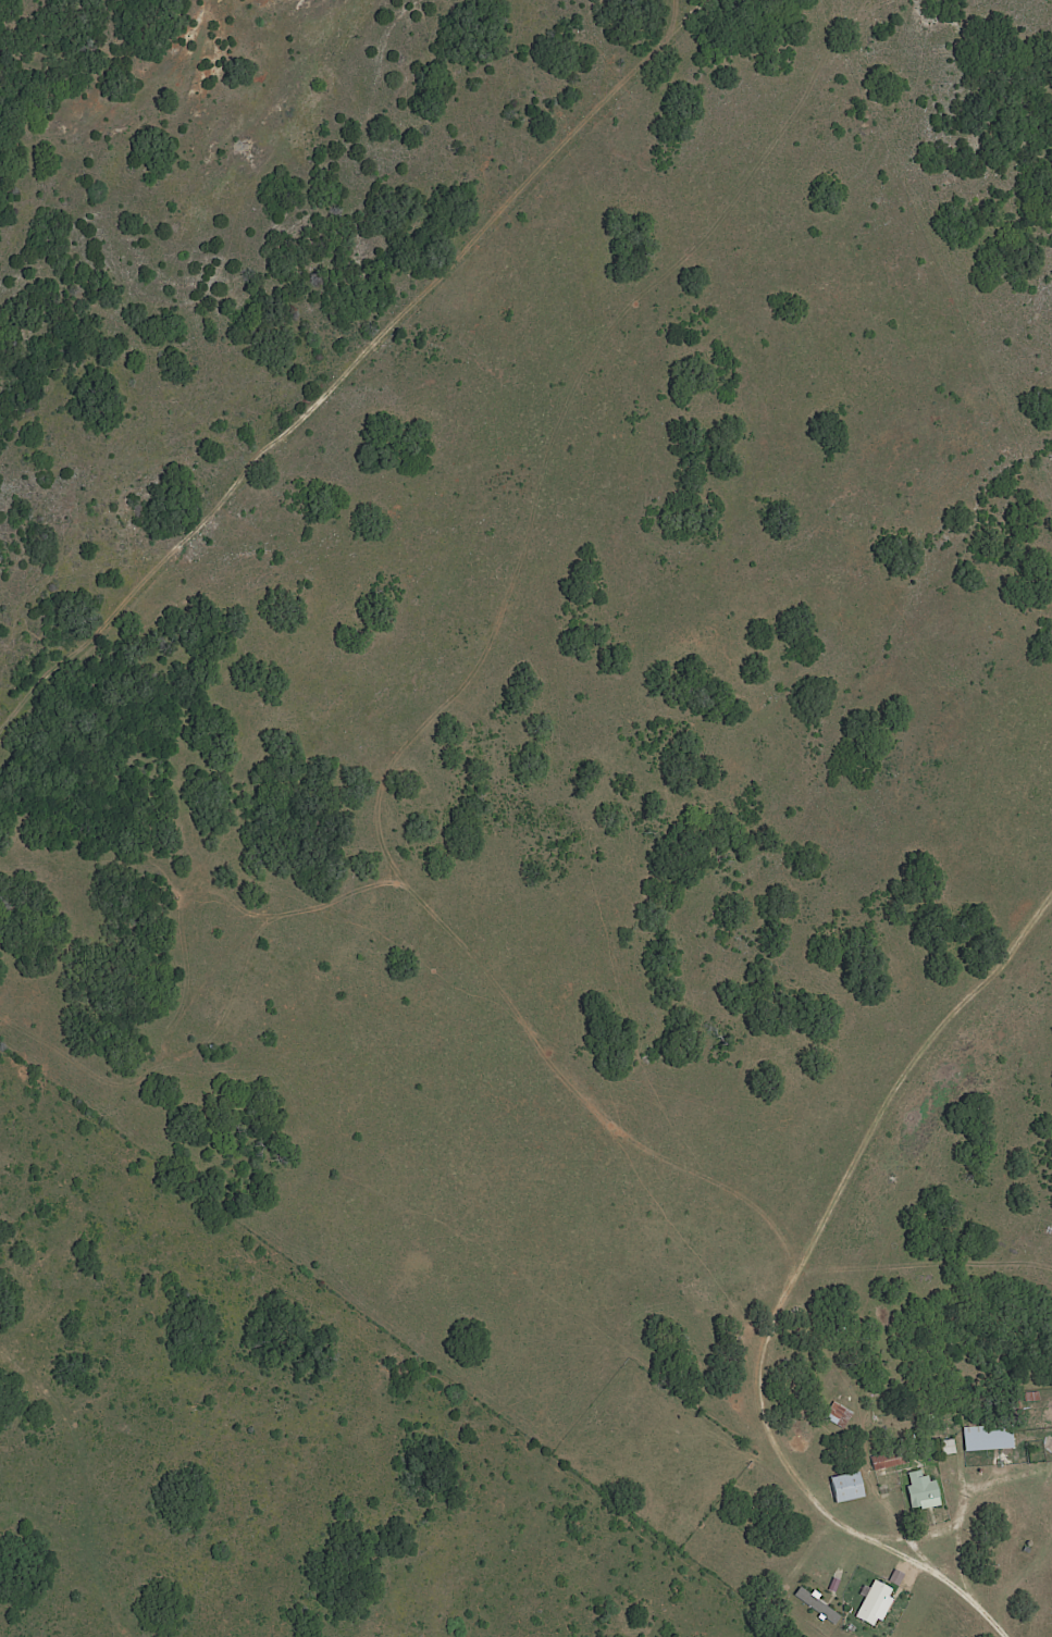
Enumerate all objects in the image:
building: (834, 1414)
building: (982, 1439)
building: (943, 1447)
road: (800, 1484)
building: (841, 1487)
building: (916, 1491)
building: (812, 1604)
building: (869, 1604)
road: (995, 1626)

